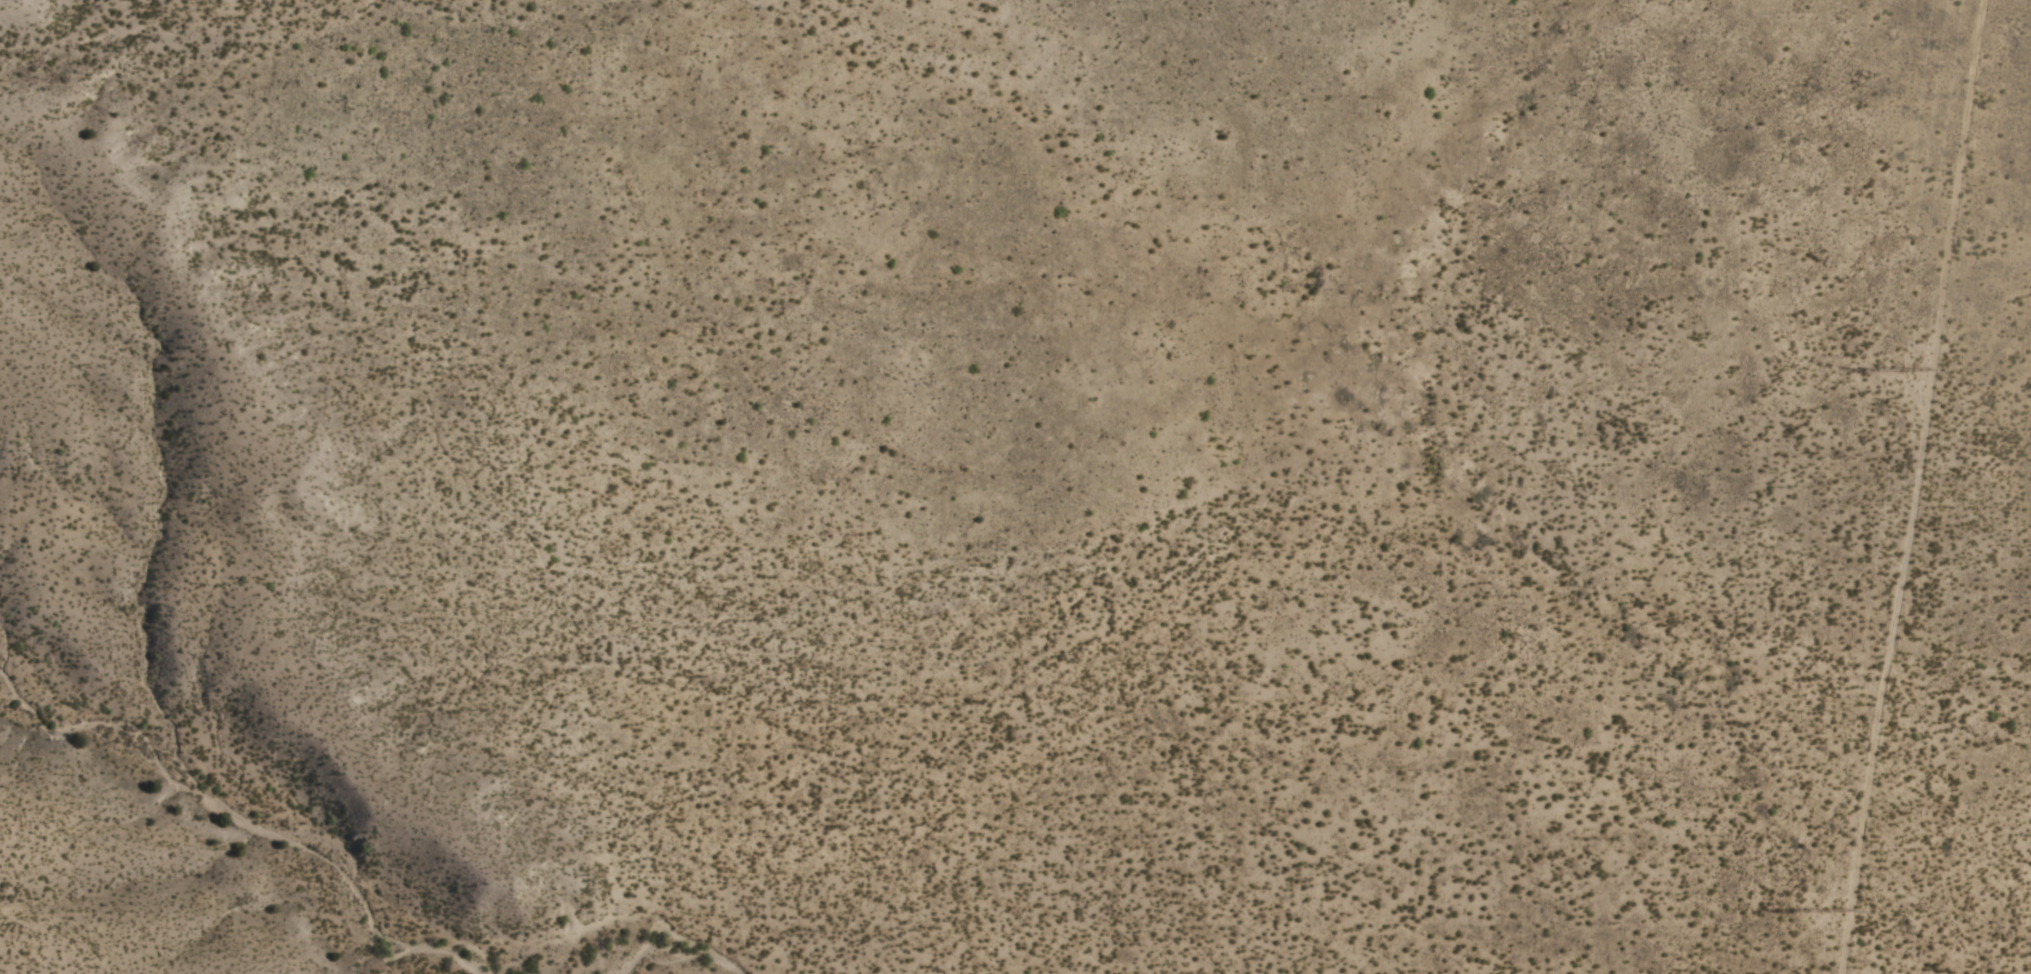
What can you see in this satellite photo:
power tower: (1910, 370)
power tower: (1828, 908)

